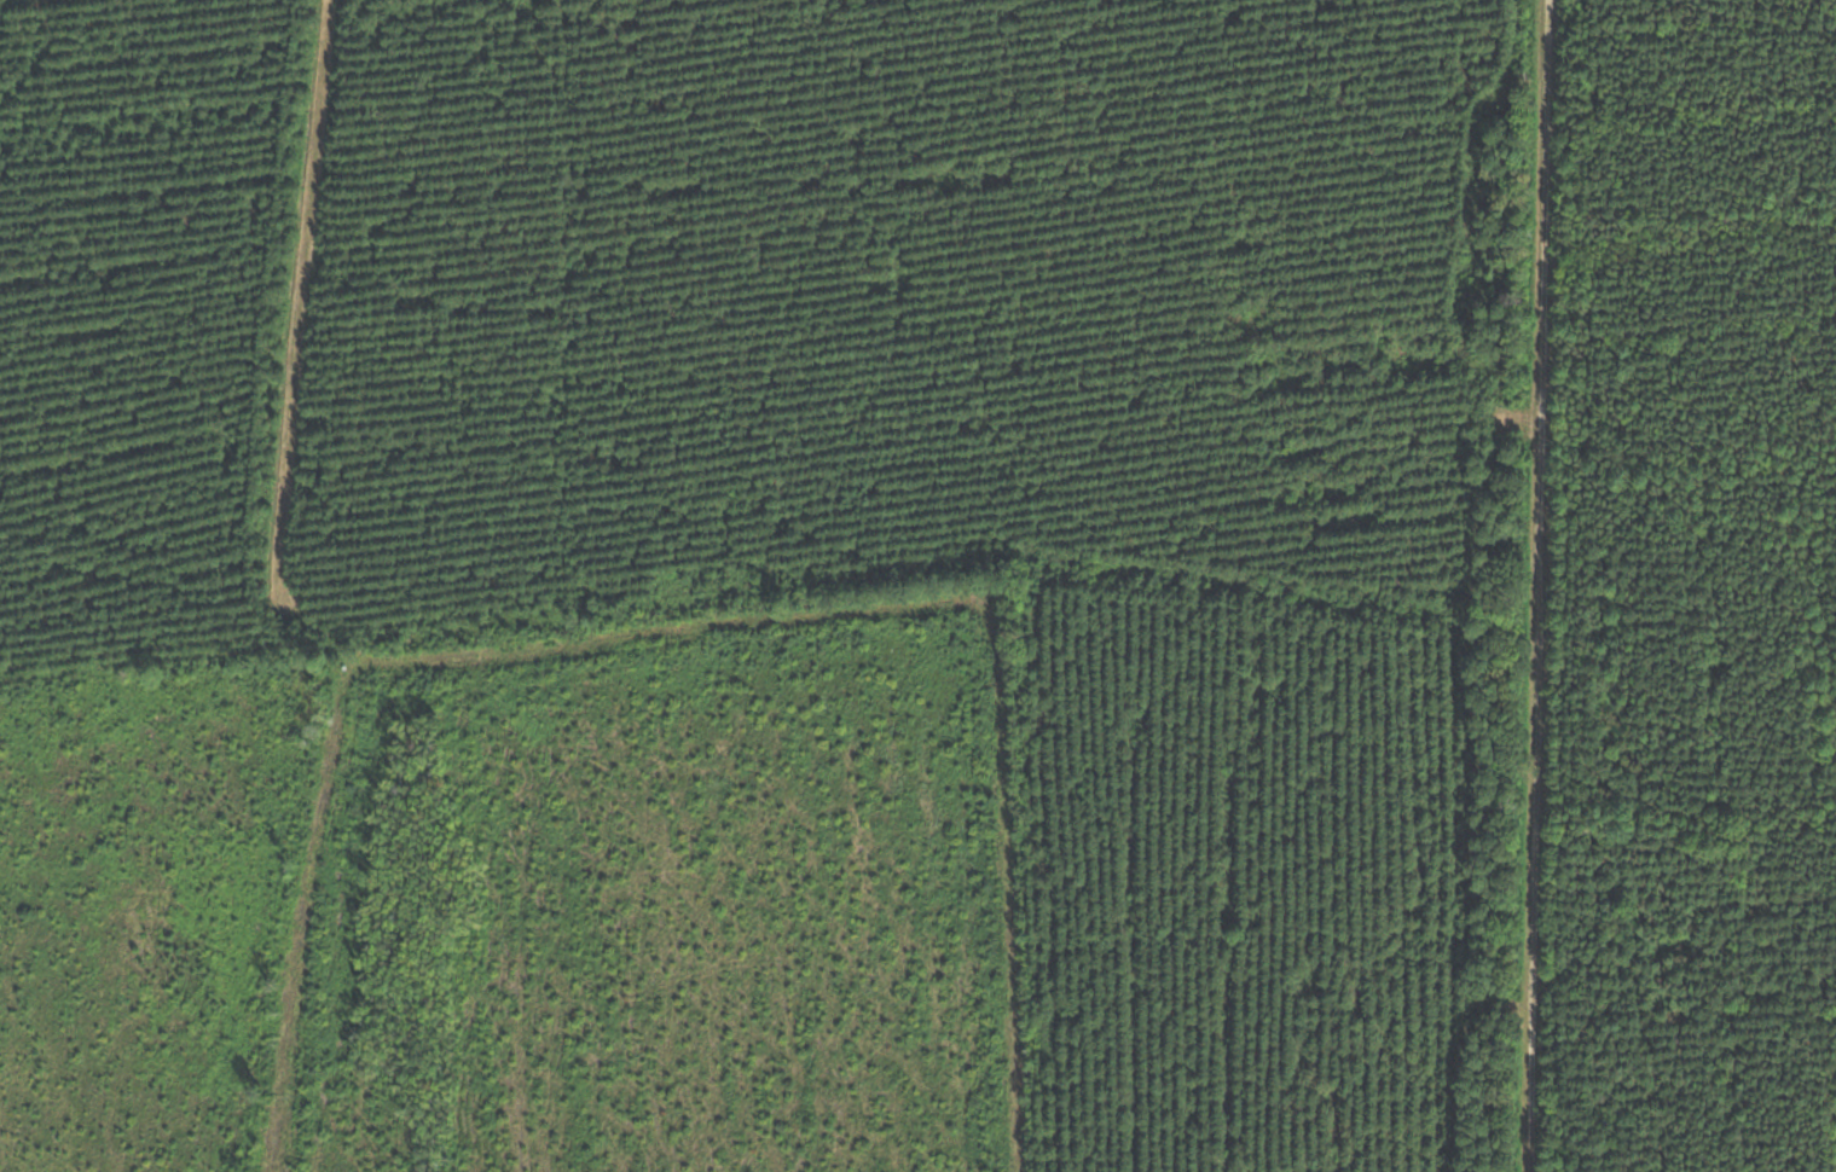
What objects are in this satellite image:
road: (1505, 585)

